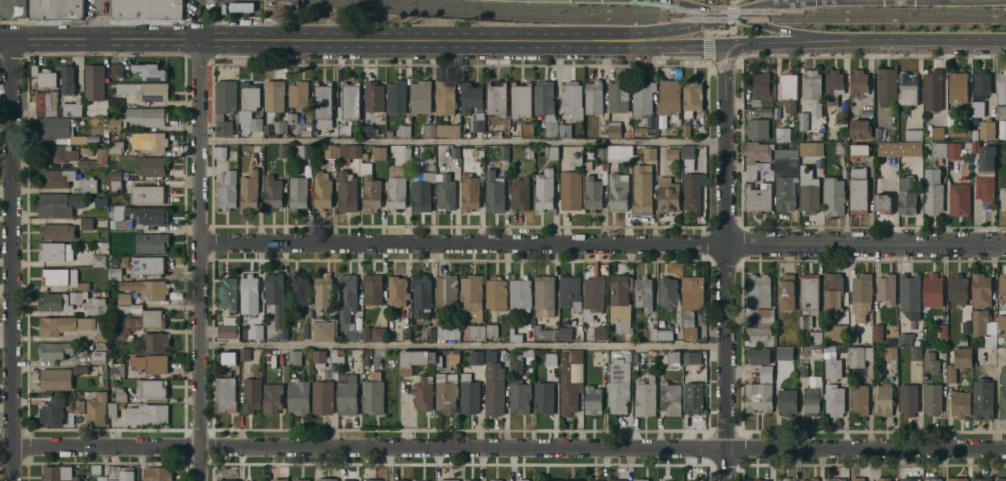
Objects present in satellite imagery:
road: (734, 2)
road: (770, 4)
building: (243, 6)
road: (701, 7)
building: (14, 8)
building: (57, 9)
building: (147, 9)
road: (98, 10)
road: (199, 10)
railway: (708, 10)
road: (689, 14)
road: (733, 14)
traffic signals: (733, 15)
railway: (665, 18)
road: (136, 20)
road: (98, 28)
road: (198, 30)
road: (718, 30)
road: (654, 31)
road: (790, 31)
road: (5, 38)
road: (293, 39)
road: (928, 39)
road: (786, 41)
traffic signals: (723, 44)
road: (617, 45)
road: (691, 45)
road: (708, 48)
road: (12, 53)
road: (104, 53)
road: (724, 53)
road: (870, 54)
road: (196, 58)
road: (725, 61)
road: (393, 63)
road: (646, 64)
building: (118, 69)
building: (151, 71)
building: (45, 77)
building: (68, 79)
building: (95, 82)
building: (982, 82)
building: (762, 83)
building: (860, 83)
building: (789, 85)
building: (834, 86)
building: (888, 86)
building: (958, 86)
building: (1002, 87)
building: (908, 88)
building: (933, 89)
building: (145, 90)
building: (814, 90)
building: (300, 94)
building: (274, 96)
building: (375, 96)
building: (397, 96)
building: (446, 96)
building: (594, 96)
building: (619, 96)
building: (670, 96)
building: (422, 97)
building: (471, 97)
building: (692, 97)
building: (644, 98)
building: (497, 99)
building: (573, 99)
building: (521, 100)
building: (116, 101)
building: (324, 101)
building: (351, 101)
building: (768, 102)
building: (45, 103)
building: (226, 105)
building: (251, 105)
building: (546, 105)
building: (72, 108)
building: (977, 108)
building: (766, 111)
building: (968, 112)
building: (1002, 112)
building: (148, 116)
building: (843, 119)
building: (804, 120)
building: (479, 121)
building: (116, 123)
building: (281, 126)
building: (310, 126)
building: (55, 128)
building: (687, 128)
building: (758, 128)
building: (861, 128)
building: (528, 129)
building: (987, 129)
building: (345, 130)
building: (368, 130)
building: (405, 130)
building: (429, 130)
building: (449, 130)
building: (566, 130)
building: (959, 130)
building: (615, 131)
building: (644, 131)
building: (390, 133)
building: (878, 133)
building: (936, 133)
building: (629, 134)
building: (784, 134)
building: (914, 134)
building: (820, 135)
building: (890, 137)
building: (153, 141)
road: (462, 141)
building: (969, 145)
building: (927, 146)
building: (842, 147)
building: (891, 147)
building: (908, 147)
building: (812, 148)
building: (588, 149)
building: (939, 149)
building: (87, 150)
building: (115, 150)
building: (860, 150)
building: (954, 150)
building: (221, 151)
building: (283, 151)
building: (304, 151)
building: (331, 151)
building: (505, 151)
building: (688, 151)
building: (349, 152)
building: (380, 152)
building: (407, 152)
building: (455, 152)
building: (477, 152)
building: (529, 152)
building: (554, 152)
building: (603, 152)
building: (621, 152)
building: (55, 153)
building: (650, 154)
building: (672, 154)
building: (102, 155)
building: (365, 155)
building: (759, 156)
building: (638, 157)
building: (576, 159)
building: (87, 162)
building: (153, 166)
building: (985, 171)
building: (116, 174)
building: (751, 175)
building: (55, 178)
building: (786, 178)
building: (878, 183)
building: (90, 184)
building: (115, 186)
building: (643, 188)
building: (371, 189)
building: (545, 189)
building: (250, 190)
building: (422, 190)
building: (571, 190)
building: (809, 190)
building: (859, 190)
building: (323, 191)
building: (347, 191)
building: (495, 191)
building: (595, 191)
building: (692, 191)
building: (933, 191)
building: (274, 192)
building: (298, 192)
building: (397, 192)
building: (446, 192)
building: (470, 192)
building: (618, 192)
building: (521, 193)
building: (148, 194)
building: (227, 194)
building: (669, 194)
building: (907, 195)
building: (834, 196)
building: (759, 198)
building: (1003, 198)
building: (960, 199)
building: (101, 202)
building: (885, 202)
building: (59, 204)
building: (149, 214)
building: (124, 223)
building: (87, 224)
building: (58, 231)
building: (152, 242)
road: (603, 242)
building: (56, 252)
road: (10, 259)
road: (201, 259)
building: (99, 260)
building: (124, 261)
building: (148, 264)
road: (724, 271)
building: (115, 273)
building: (60, 276)
building: (83, 285)
building: (148, 288)
building: (373, 288)
building: (887, 288)
building: (958, 288)
building: (982, 289)
building: (300, 290)
building: (759, 290)
building: (933, 290)
building: (398, 291)
building: (447, 291)
building: (669, 291)
building: (788, 291)
building: (251, 292)
building: (324, 292)
building: (497, 292)
building: (571, 292)
building: (595, 292)
building: (228, 293)
building: (644, 293)
building: (834, 294)
building: (911, 295)
building: (422, 296)
building: (521, 296)
building: (545, 296)
building: (862, 296)
building: (78, 297)
building: (472, 297)
building: (809, 297)
building: (125, 298)
building: (277, 300)
building: (693, 300)
building: (55, 301)
building: (620, 302)
building: (348, 305)
building: (97, 306)
building: (128, 308)
building: (1002, 309)
building: (765, 312)
building: (147, 319)
building: (980, 322)
building: (661, 323)
building: (64, 324)
building: (967, 326)
building: (102, 328)
building: (229, 328)
building: (308, 330)
building: (325, 330)
building: (492, 330)
building: (258, 331)
building: (448, 331)
building: (477, 331)
building: (761, 331)
building: (836, 331)
building: (690, 332)
building: (878, 332)
building: (943, 332)
building: (367, 333)
building: (379, 333)
building: (407, 333)
building: (431, 333)
building: (546, 333)
building: (566, 333)
building: (601, 333)
building: (653, 334)
building: (666, 334)
building: (123, 335)
building: (516, 335)
building: (816, 337)
building: (906, 339)
building: (991, 340)
building: (154, 342)
road: (463, 345)
building: (55, 350)
building: (341, 351)
building: (662, 351)
building: (267, 352)
building: (783, 352)
building: (942, 352)
building: (891, 353)
building: (245, 354)
building: (454, 354)
building: (917, 354)
building: (320, 355)
building: (492, 355)
building: (529, 355)
building: (759, 355)
building: (860, 355)
building: (99, 356)
building: (230, 357)
building: (295, 357)
building: (477, 357)
building: (628, 357)
building: (675, 357)
building: (693, 357)
building: (552, 358)
building: (808, 358)
building: (963, 358)
building: (334, 359)
building: (416, 359)
building: (516, 362)
building: (931, 362)
building: (151, 363)
building: (654, 364)
building: (767, 368)
building: (833, 368)
building: (81, 369)
building: (119, 369)
building: (105, 372)
building: (951, 373)
building: (767, 376)
building: (1003, 376)
building: (57, 379)
building: (570, 383)
building: (619, 386)
building: (152, 387)
building: (495, 389)
building: (253, 392)
building: (348, 393)
building: (424, 393)
building: (121, 394)
building: (226, 394)
building: (299, 396)
building: (373, 396)
building: (447, 396)
building: (471, 396)
building: (521, 396)
building: (646, 396)
building: (324, 397)
building: (545, 397)
building: (694, 397)
building: (759, 397)
building: (273, 398)
building: (671, 398)
building: (983, 398)
building: (812, 399)
building: (835, 399)
building: (859, 399)
building: (909, 399)
building: (933, 399)
building: (594, 400)
building: (884, 400)
building: (788, 401)
building: (961, 404)
building: (1003, 404)
building: (80, 406)
building: (122, 406)
building: (52, 408)
building: (98, 409)
building: (114, 410)
building: (148, 414)
road: (406, 414)
road: (502, 449)
building: (99, 472)
building: (122, 472)
building: (59, 473)
building: (157, 474)
building: (281, 479)
building: (327, 479)
building: (523, 479)
building: (641, 479)
building: (786, 479)
building: (812, 479)
building: (836, 479)
building: (858, 479)
building: (885, 479)
building: (910, 479)
building: (933, 479)
building: (958, 479)
building: (982, 479)
building: (1001, 479)
building: (115, 480)
building: (227, 480)
building: (302, 480)
building: (349, 480)
building: (374, 480)
building: (401, 480)
building: (419, 480)
building: (450, 480)
building: (472, 480)
building: (496, 480)
building: (540, 480)
building: (547, 480)
building: (554, 480)
building: (567, 480)
building: (594, 480)
building: (619, 480)
building: (667, 480)
building: (757, 480)

